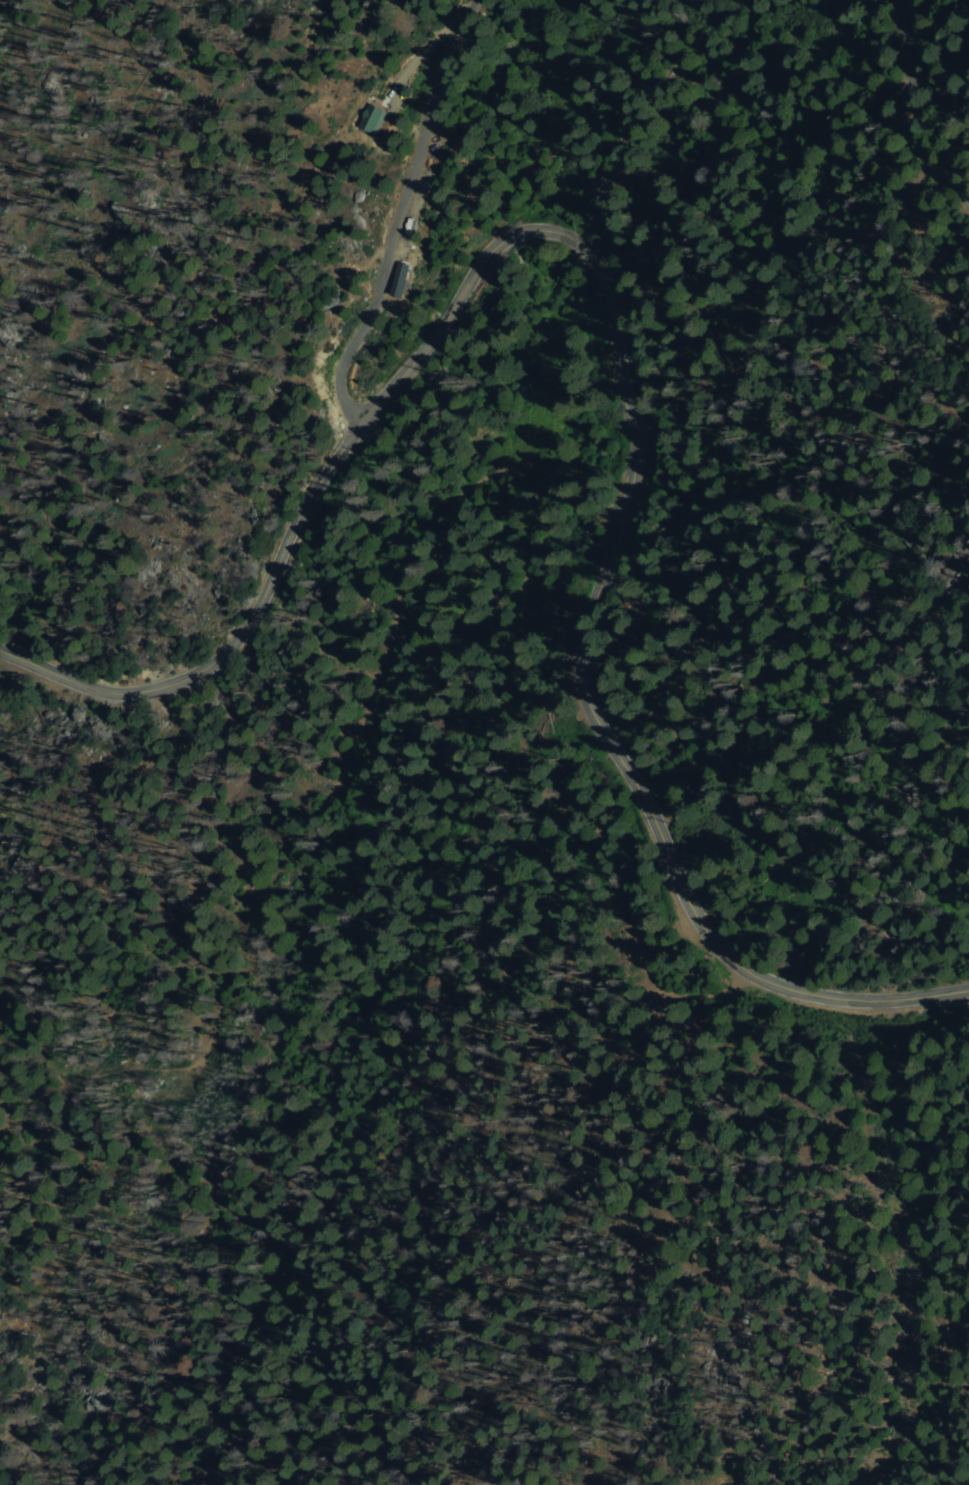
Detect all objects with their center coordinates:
building: (372, 118)
road: (615, 329)

